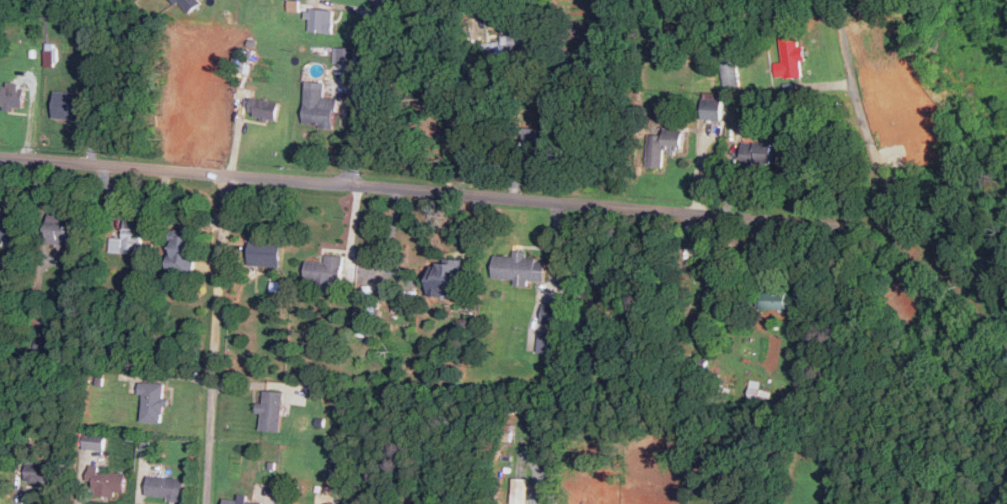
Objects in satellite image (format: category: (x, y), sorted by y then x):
building: (188, 5)
road: (379, 6)
building: (320, 21)
building: (512, 45)
building: (345, 54)
building: (50, 56)
building: (791, 56)
building: (730, 71)
road: (363, 86)
building: (12, 95)
building: (201, 95)
building: (69, 105)
building: (318, 105)
building: (711, 106)
building: (263, 109)
building: (419, 114)
road: (862, 116)
building: (533, 136)
building: (663, 145)
building: (758, 154)
road: (447, 192)
building: (58, 228)
building: (9, 230)
building: (129, 238)
building: (182, 250)
building: (266, 252)
building: (519, 267)
building: (325, 269)
building: (445, 277)
building: (777, 299)
building: (551, 313)
road: (217, 338)
building: (548, 341)
building: (49, 346)
building: (151, 402)
building: (272, 410)
building: (94, 440)
building: (39, 471)
building: (107, 482)
road: (548, 485)
road: (140, 487)
building: (165, 487)
building: (519, 490)
building: (240, 501)
building: (289, 503)
building: (724, 503)

